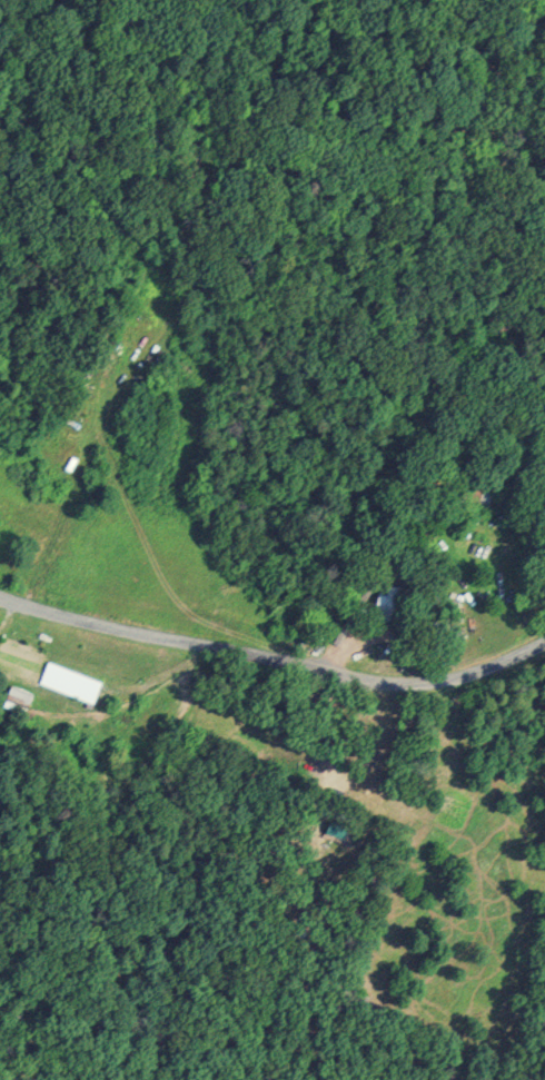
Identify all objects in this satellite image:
road: (274, 660)

